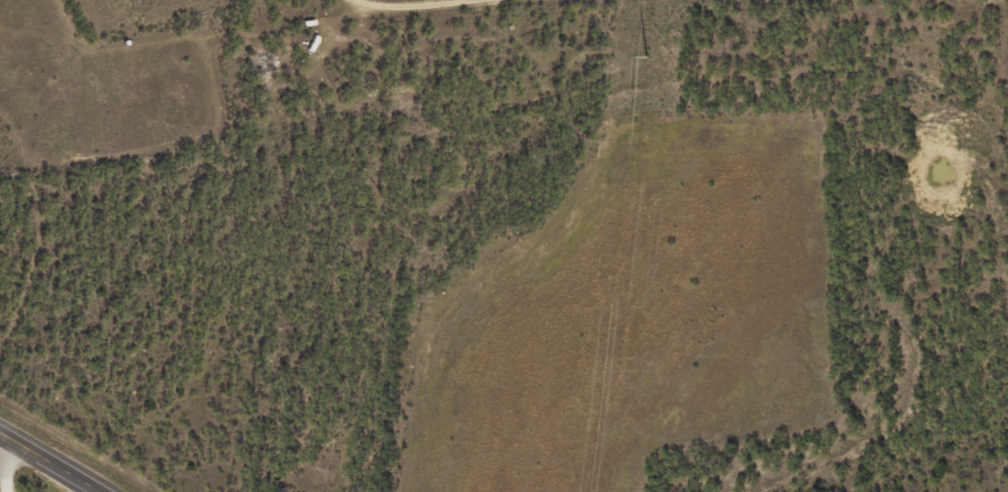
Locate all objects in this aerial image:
power tower: (650, 58)
road: (423, 156)
road: (48, 462)
road: (10, 465)

